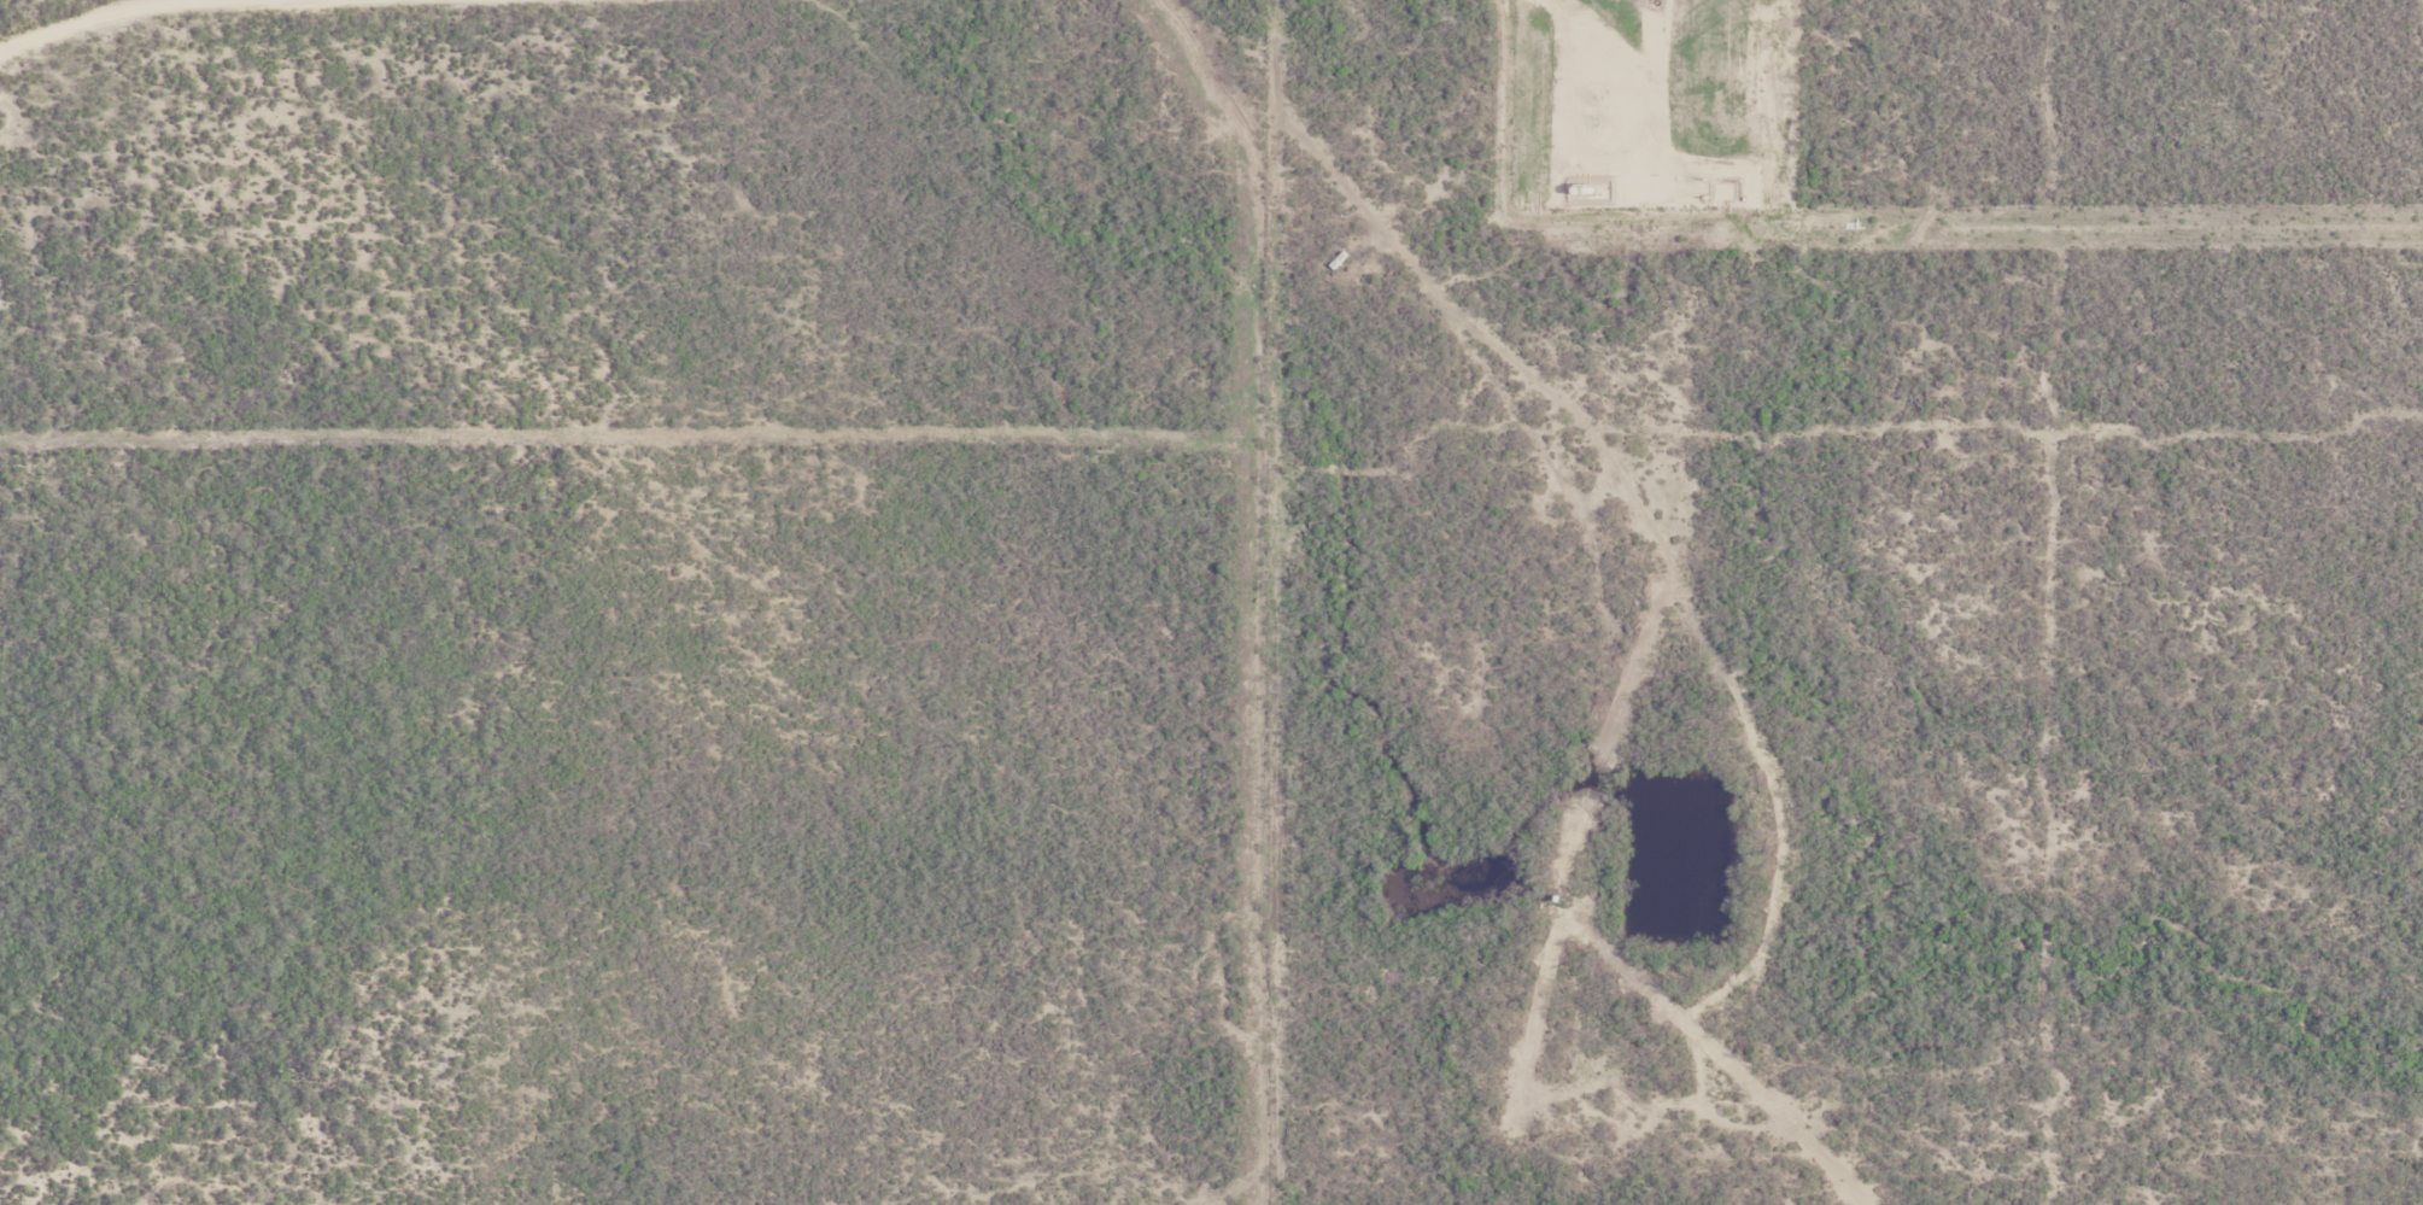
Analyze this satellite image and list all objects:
road: (88, 18)

